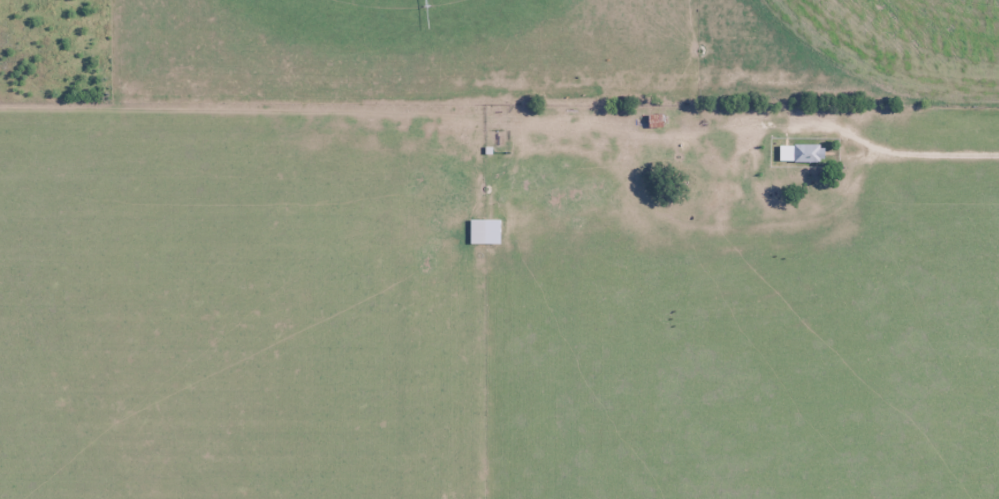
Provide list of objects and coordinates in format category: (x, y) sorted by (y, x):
building: (807, 153)
road: (927, 154)

